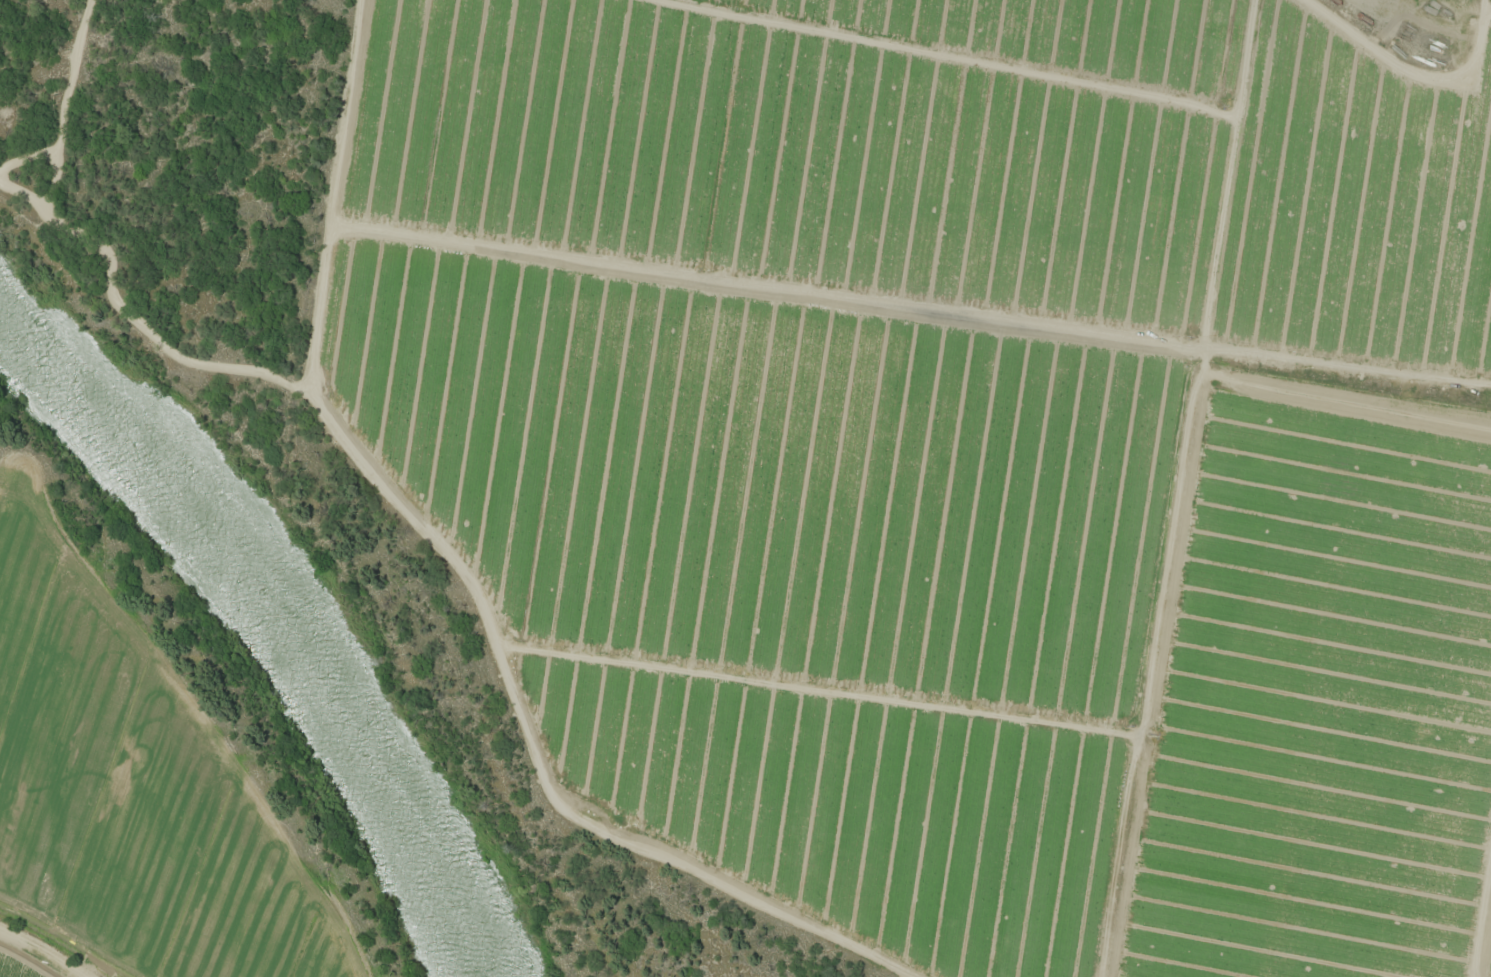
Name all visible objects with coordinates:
river: (282, 615)

